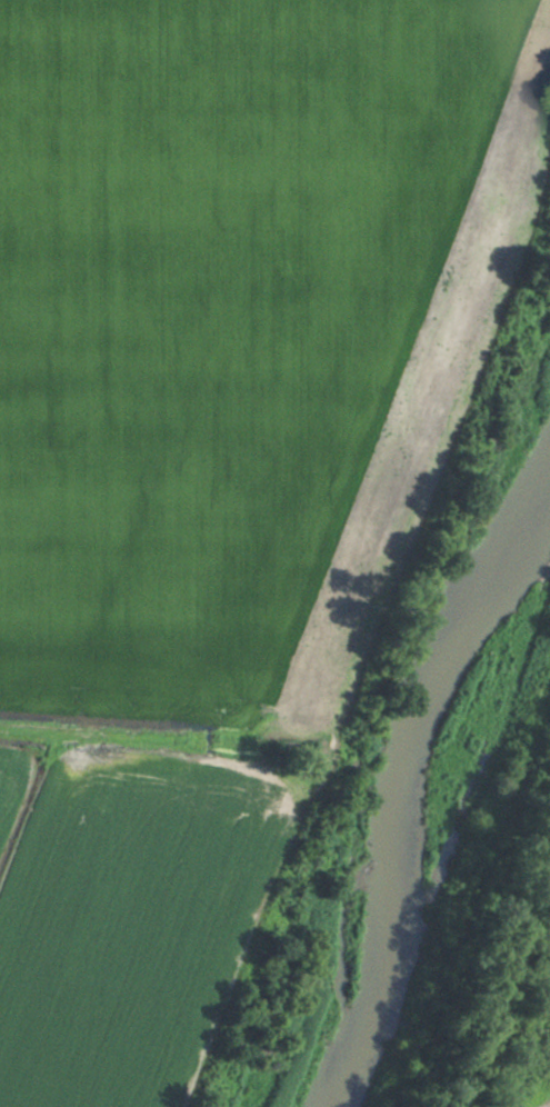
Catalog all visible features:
river: (400, 769)

